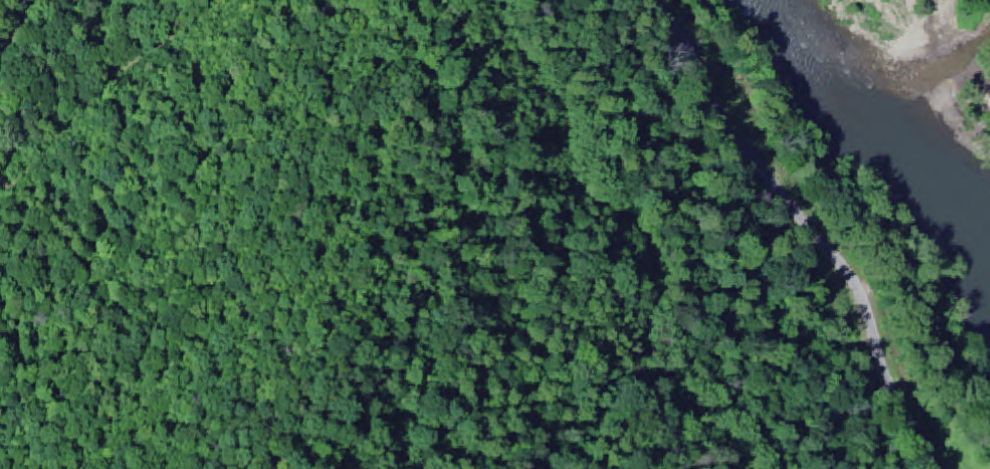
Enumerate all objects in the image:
river: (868, 123)
road: (806, 227)

